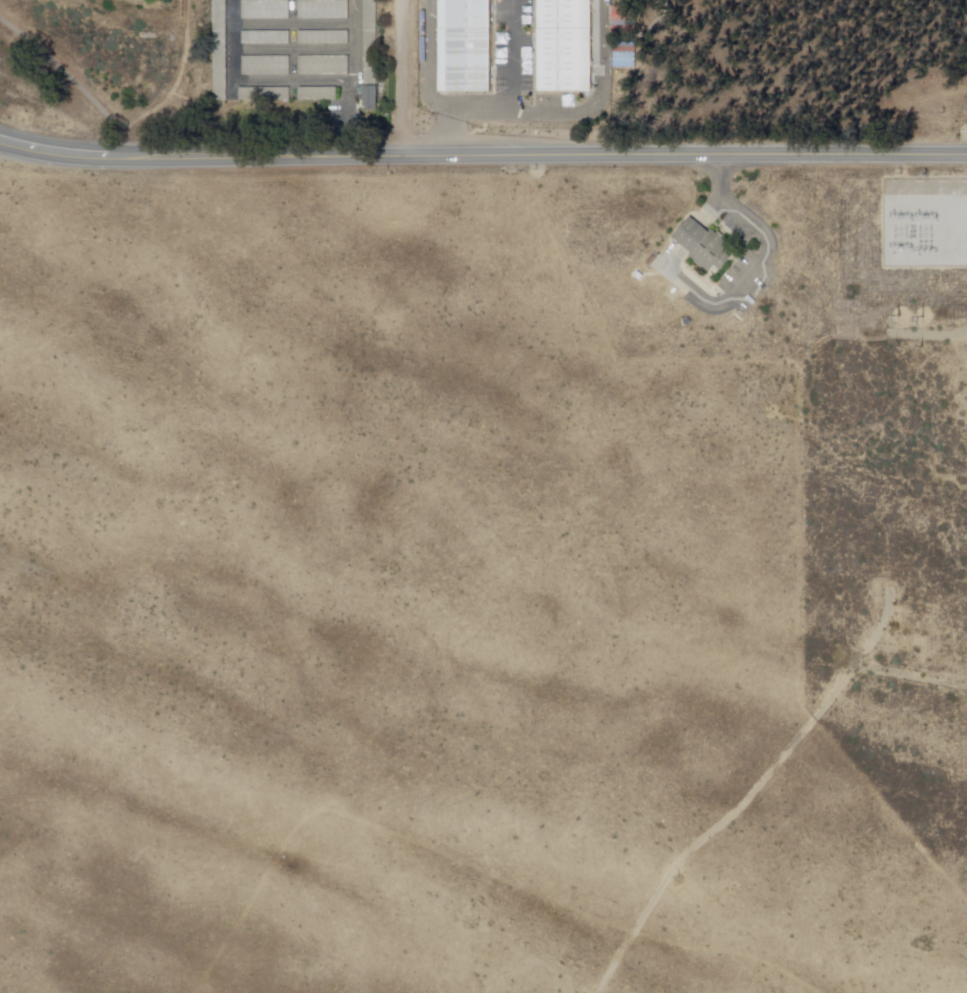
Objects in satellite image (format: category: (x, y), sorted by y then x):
building: (322, 11)
building: (264, 12)
building: (323, 39)
building: (266, 40)
building: (564, 46)
building: (464, 47)
building: (220, 49)
building: (323, 67)
building: (266, 69)
road: (402, 78)
road: (511, 94)
building: (266, 96)
building: (317, 96)
building: (371, 101)
road: (482, 155)
road: (712, 211)
power substation: (926, 223)
building: (704, 247)
building: (652, 261)
parking lot: (743, 268)
road: (758, 270)

